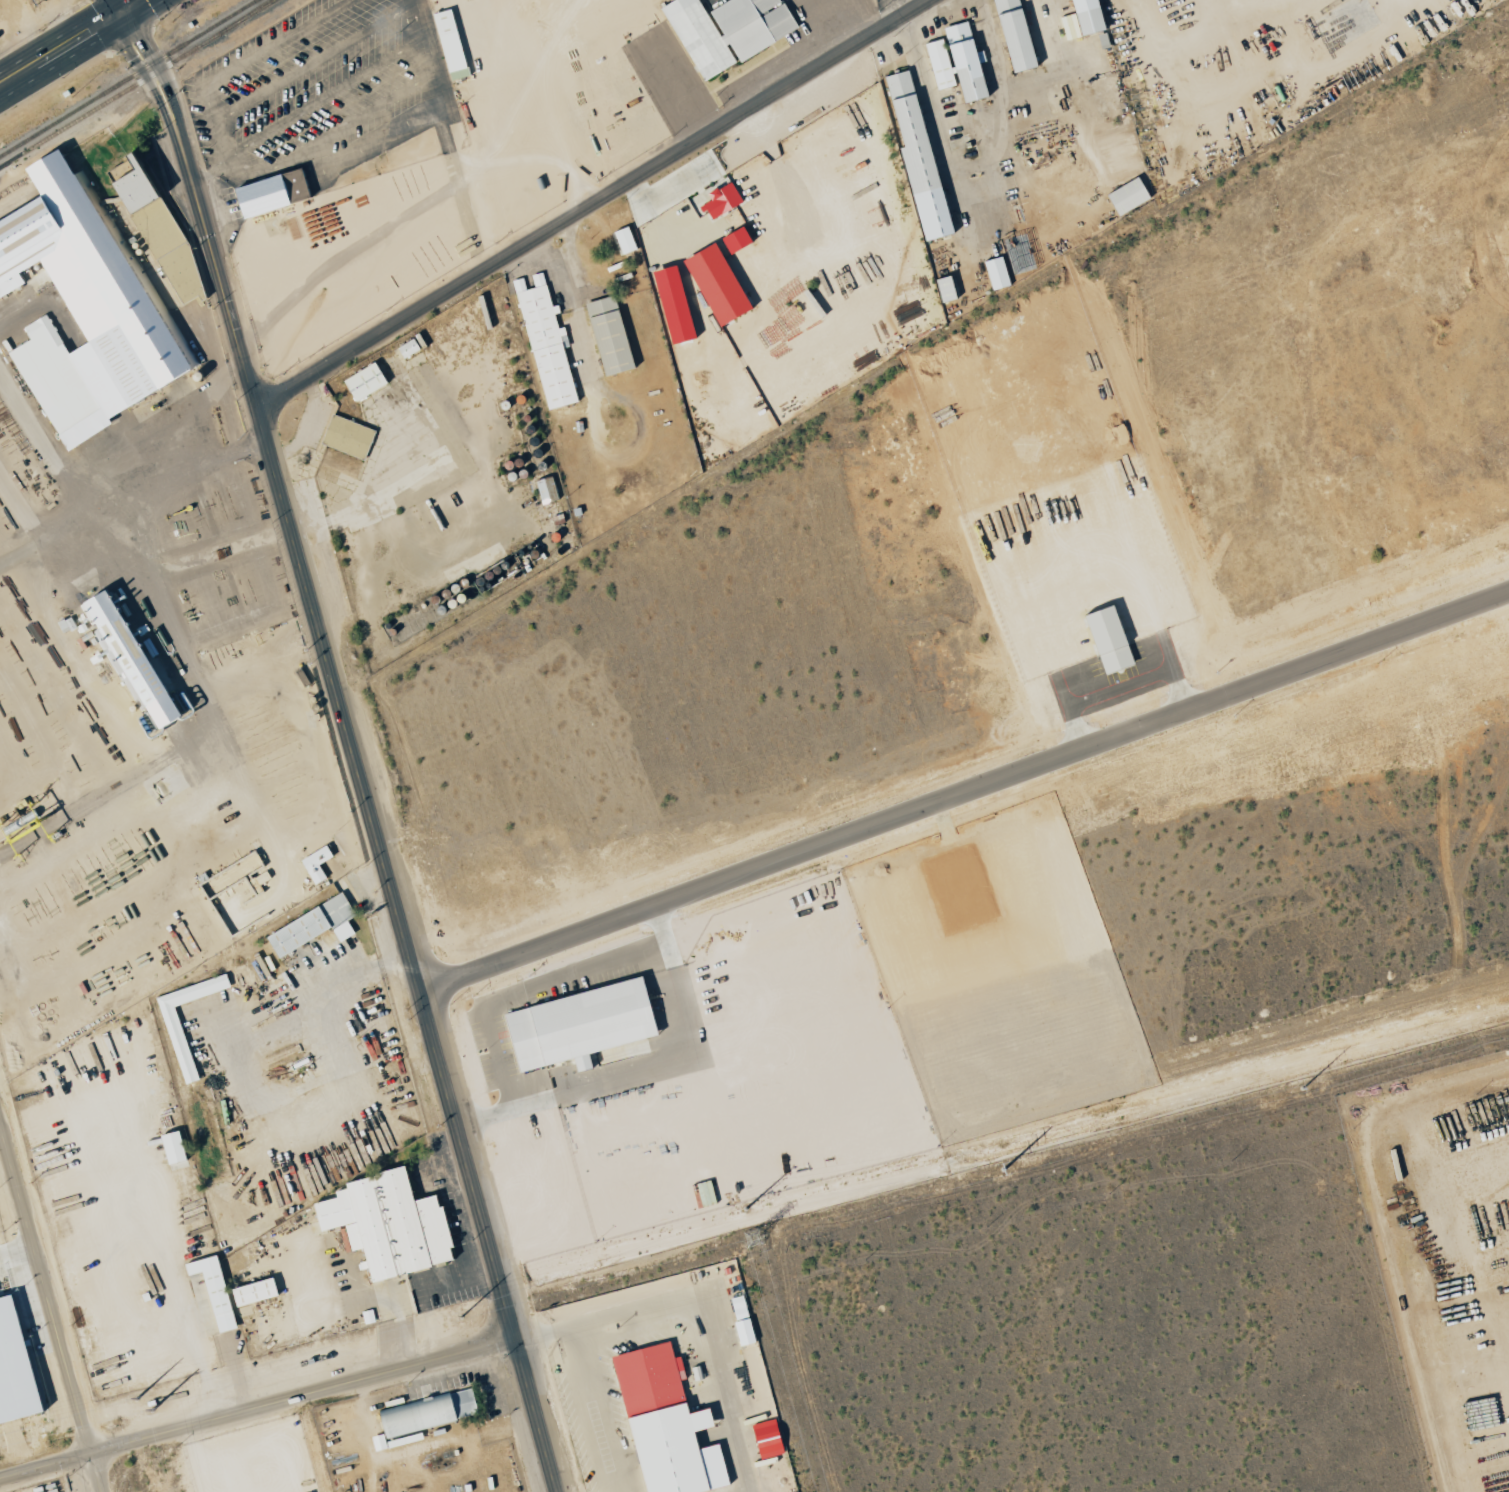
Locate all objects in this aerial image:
railway: (256, 9)
building: (1080, 19)
building: (724, 30)
building: (1012, 34)
road: (71, 43)
building: (449, 44)
building: (954, 62)
railway: (128, 78)
railway: (136, 83)
building: (915, 157)
building: (128, 188)
building: (268, 193)
building: (1126, 196)
building: (721, 199)
road: (589, 204)
building: (622, 240)
building: (168, 253)
building: (995, 273)
building: (714, 284)
building: (943, 288)
building: (670, 305)
building: (82, 309)
building: (607, 335)
building: (544, 343)
building: (362, 381)
road: (208, 425)
building: (346, 437)
road: (126, 476)
building: (545, 490)
building: (1105, 638)
building: (124, 656)
road: (347, 740)
road: (1449, 761)
road: (963, 804)
building: (314, 863)
building: (308, 925)
road: (278, 1010)
building: (576, 1025)
building: (176, 1042)
power tower: (1302, 1088)
building: (170, 1147)
power tower: (1002, 1169)
power tower: (744, 1208)
building: (385, 1224)
power tower: (751, 1239)
building: (212, 1290)
building: (251, 1292)
road: (51, 1307)
road: (619, 1309)
power tower: (459, 1318)
building: (740, 1320)
road: (626, 1330)
road: (557, 1335)
building: (13, 1370)
road: (715, 1372)
power tower: (136, 1398)
power tower: (152, 1408)
road: (600, 1412)
road: (258, 1413)
building: (422, 1416)
building: (659, 1419)

